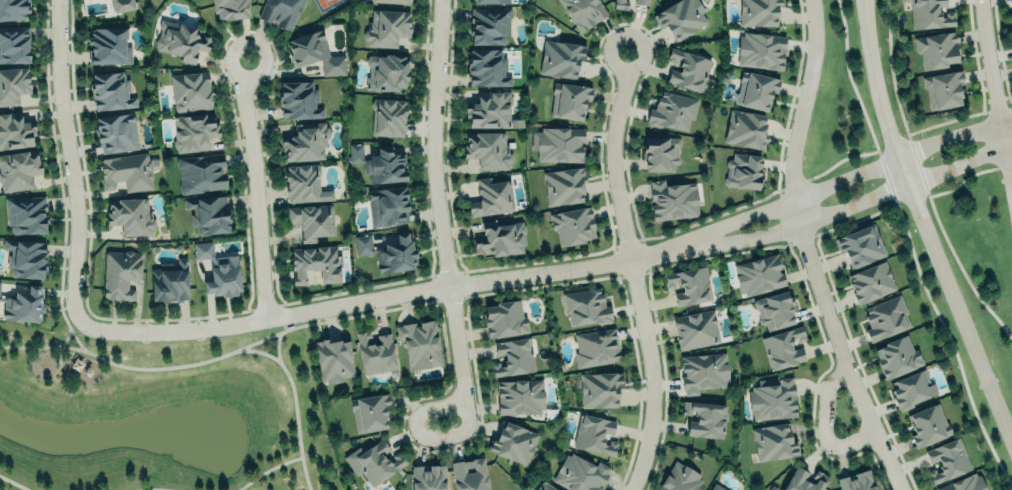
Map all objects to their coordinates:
building: (393, 1)
building: (491, 1)
building: (640, 1)
building: (620, 4)
building: (122, 5)
building: (13, 9)
building: (230, 9)
building: (758, 11)
building: (280, 12)
building: (583, 12)
building: (928, 14)
building: (680, 18)
building: (489, 25)
building: (386, 27)
building: (180, 39)
building: (14, 44)
building: (108, 46)
building: (307, 48)
building: (761, 49)
building: (936, 49)
building: (561, 58)
building: (487, 67)
building: (687, 69)
building: (386, 71)
building: (13, 85)
building: (943, 88)
building: (110, 90)
building: (756, 90)
building: (189, 91)
building: (569, 99)
building: (298, 100)
road: (994, 102)
building: (491, 110)
building: (672, 110)
building: (388, 116)
building: (745, 129)
building: (14, 130)
building: (193, 131)
building: (116, 133)
building: (305, 141)
building: (558, 143)
building: (487, 149)
building: (660, 153)
road: (68, 160)
building: (379, 163)
building: (17, 170)
building: (126, 171)
building: (743, 171)
building: (201, 173)
road: (844, 176)
building: (304, 183)
building: (563, 185)
road: (254, 187)
building: (491, 196)
building: (672, 200)
road: (435, 202)
building: (387, 206)
road: (849, 206)
building: (208, 213)
building: (26, 214)
building: (130, 215)
building: (311, 220)
building: (572, 226)
road: (923, 226)
building: (500, 238)
building: (860, 245)
road: (808, 251)
building: (388, 252)
building: (25, 258)
building: (315, 263)
building: (218, 269)
road: (632, 269)
building: (119, 273)
building: (758, 274)
building: (169, 281)
building: (0, 282)
building: (870, 282)
building: (688, 285)
road: (379, 297)
building: (23, 305)
building: (585, 307)
building: (774, 309)
building: (884, 318)
building: (504, 319)
road: (70, 329)
building: (695, 329)
road: (275, 333)
road: (66, 338)
building: (419, 344)
road: (277, 346)
building: (595, 347)
building: (782, 347)
building: (375, 352)
building: (512, 357)
building: (897, 357)
road: (206, 360)
building: (333, 360)
building: (703, 371)
building: (598, 389)
building: (912, 389)
building: (519, 396)
building: (772, 399)
building: (369, 412)
park: (158, 413)
building: (704, 418)
road: (824, 425)
building: (927, 425)
building: (594, 434)
road: (418, 437)
building: (773, 442)
building: (513, 443)
building: (946, 460)
building: (373, 462)
road: (267, 469)
building: (579, 473)
building: (469, 474)
building: (428, 477)
building: (679, 478)
building: (804, 480)
building: (855, 481)
road: (14, 482)
building: (963, 483)
building: (546, 486)
building: (716, 487)
road: (152, 489)

